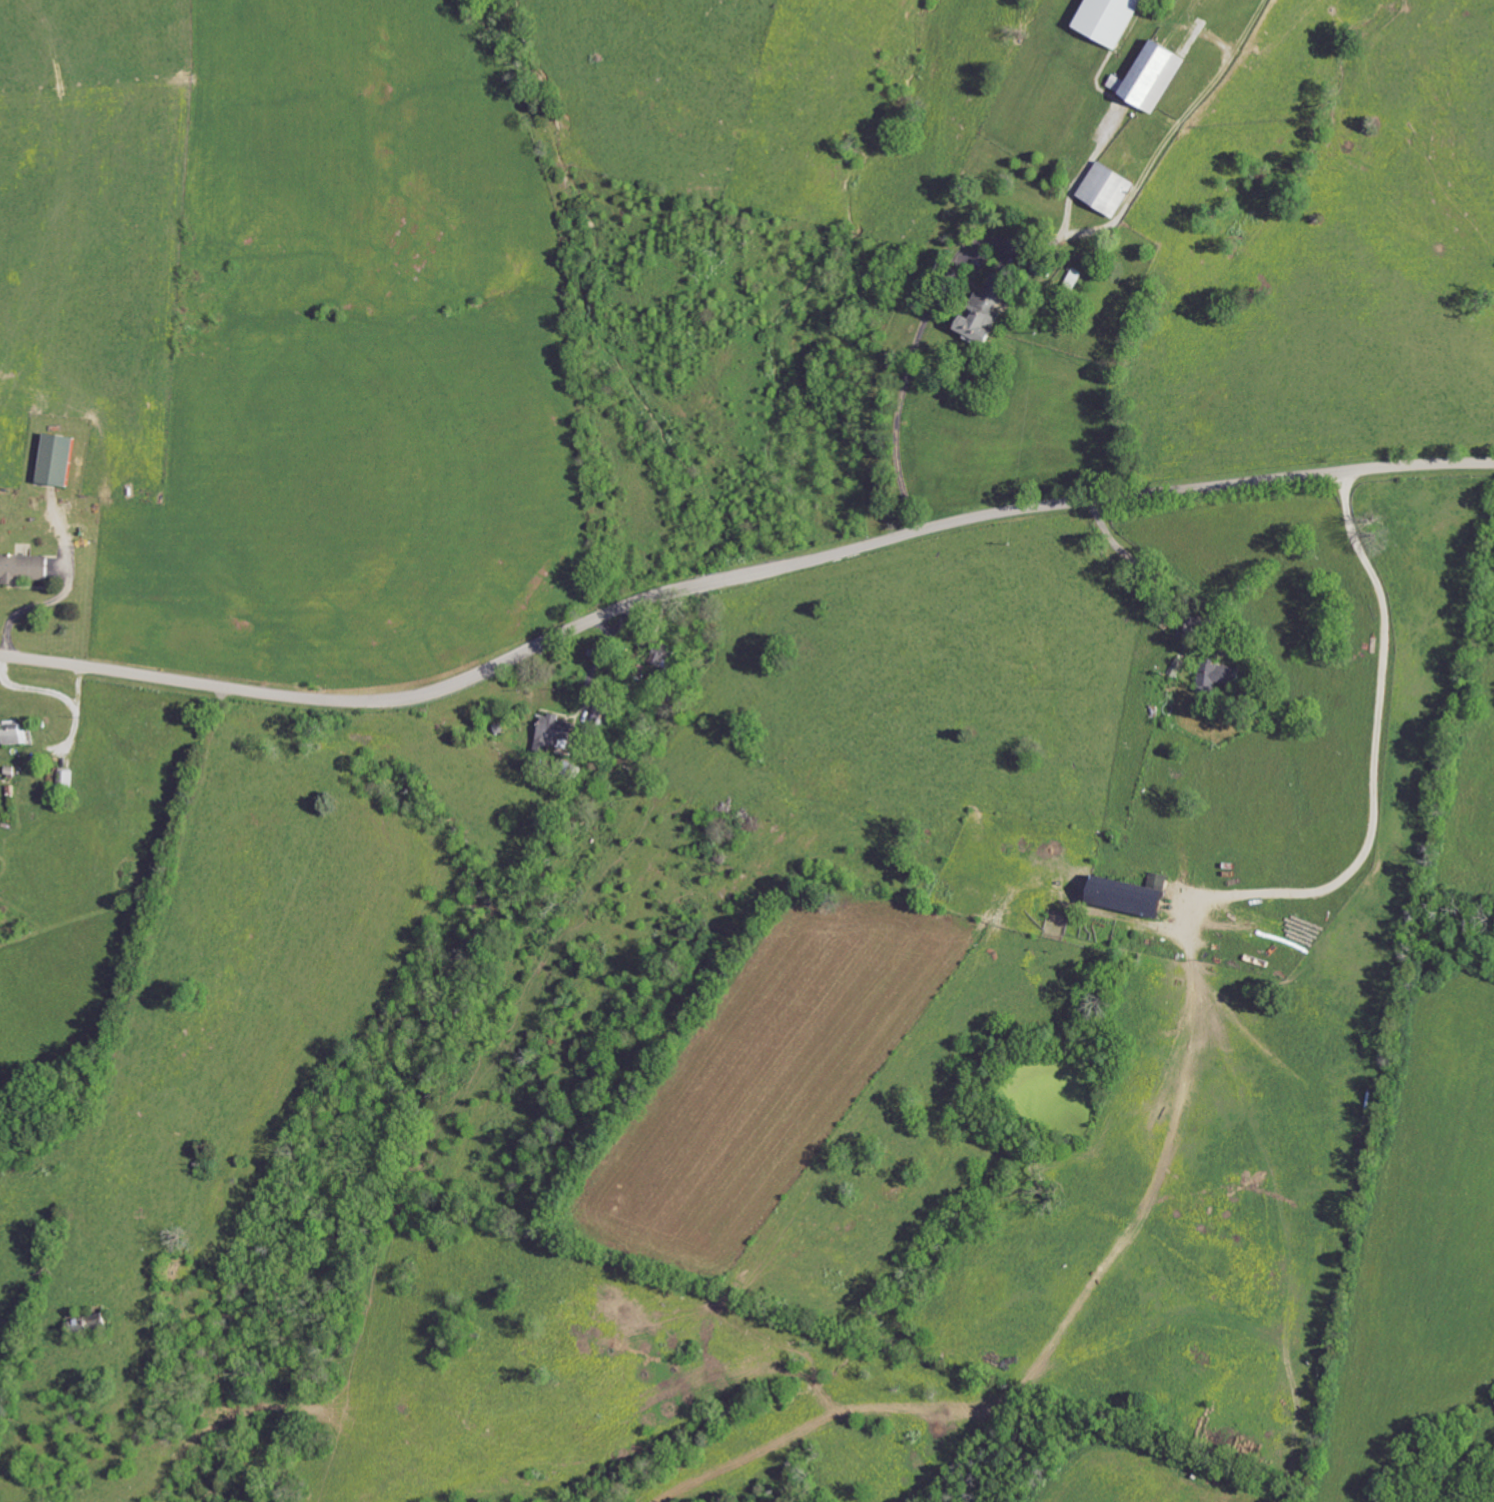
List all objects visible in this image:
building: (1109, 20)
building: (1152, 77)
building: (1107, 189)
road: (947, 278)
building: (1073, 278)
building: (986, 310)
building: (55, 458)
road: (1134, 564)
building: (22, 567)
road: (739, 576)
road: (38, 604)
building: (661, 653)
road: (599, 654)
building: (1220, 672)
building: (552, 732)
building: (14, 735)
road: (1375, 757)
building: (1128, 896)

